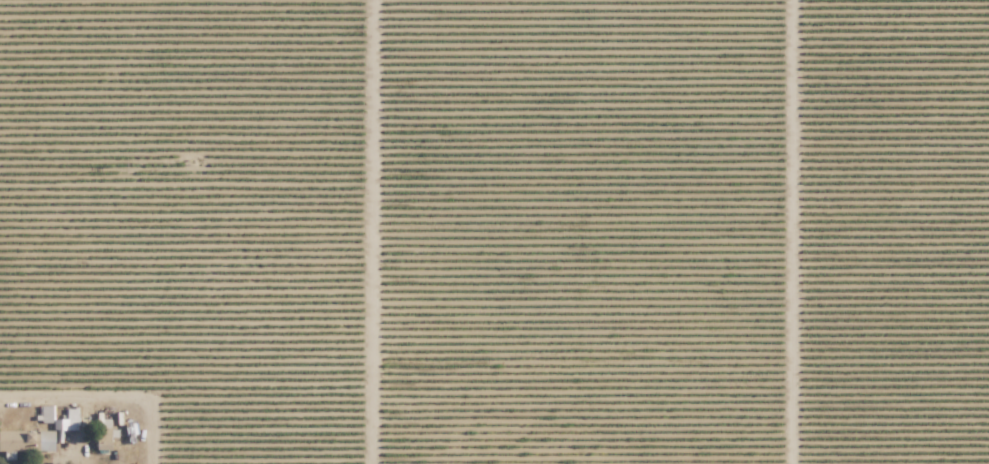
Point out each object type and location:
building: (18, 440)

